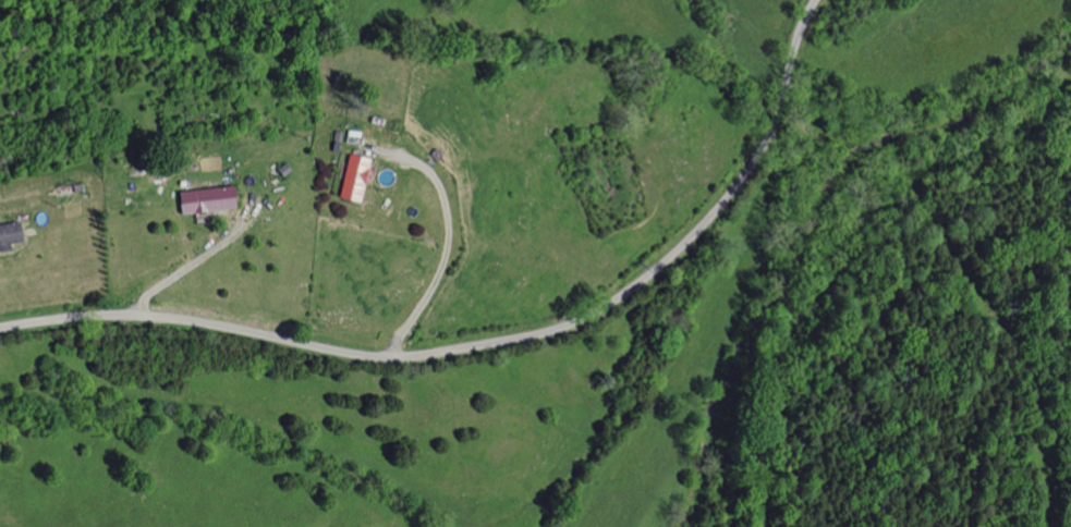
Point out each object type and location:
building: (350, 177)
building: (203, 199)
building: (8, 233)
road: (447, 254)
road: (494, 342)

